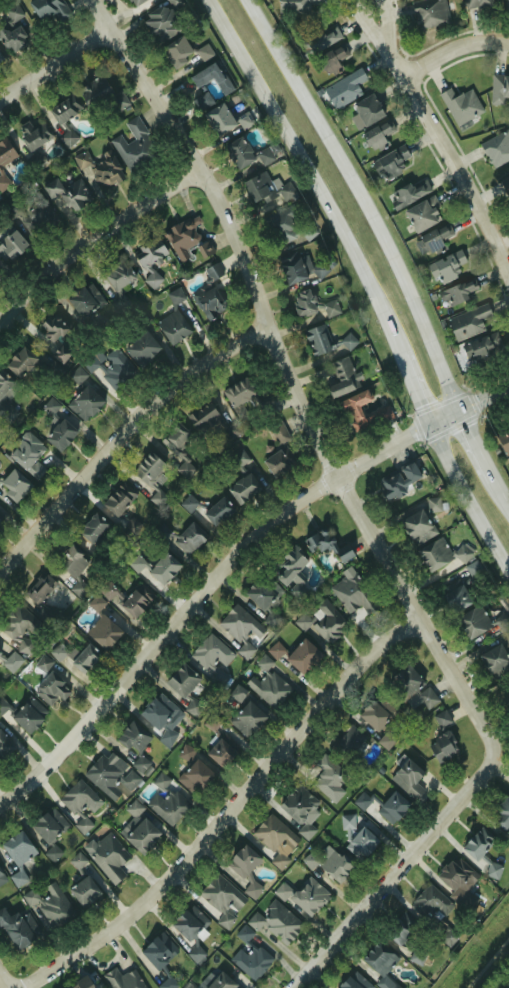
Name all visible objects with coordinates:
building: (133, 2)
building: (174, 3)
building: (475, 3)
building: (507, 4)
building: (295, 5)
building: (49, 10)
building: (429, 13)
road: (387, 18)
road: (365, 21)
building: (161, 23)
building: (12, 31)
building: (321, 34)
road: (453, 48)
building: (183, 51)
building: (0, 57)
building: (326, 63)
road: (58, 68)
building: (344, 88)
building: (499, 88)
building: (101, 94)
building: (211, 98)
building: (461, 105)
building: (367, 109)
building: (63, 116)
building: (377, 136)
building: (32, 138)
building: (134, 145)
building: (496, 148)
building: (5, 152)
building: (238, 152)
road: (448, 153)
building: (264, 156)
building: (391, 162)
building: (104, 170)
road: (310, 174)
building: (507, 180)
building: (3, 182)
building: (259, 188)
building: (66, 189)
building: (409, 193)
road: (361, 201)
building: (29, 213)
building: (423, 214)
building: (287, 227)
building: (182, 236)
building: (435, 240)
road: (97, 241)
building: (10, 246)
building: (203, 251)
building: (149, 257)
building: (445, 267)
building: (299, 268)
building: (213, 271)
building: (117, 274)
building: (458, 292)
building: (175, 296)
building: (83, 300)
building: (208, 301)
building: (119, 302)
building: (312, 305)
building: (467, 322)
building: (172, 326)
building: (52, 327)
building: (317, 340)
building: (348, 341)
building: (482, 347)
building: (142, 349)
building: (20, 362)
building: (110, 366)
building: (77, 375)
building: (343, 376)
road: (296, 381)
road: (413, 390)
building: (239, 394)
building: (6, 397)
building: (84, 403)
building: (50, 406)
building: (350, 411)
traffic signals: (457, 413)
building: (205, 418)
traffic signals: (428, 427)
building: (277, 432)
building: (59, 434)
road: (126, 440)
building: (504, 440)
road: (475, 446)
building: (178, 448)
building: (28, 455)
building: (278, 462)
building: (151, 476)
building: (397, 481)
building: (13, 485)
building: (243, 488)
road: (501, 492)
road: (468, 497)
building: (118, 498)
building: (188, 503)
building: (433, 504)
building: (217, 511)
building: (0, 518)
building: (417, 526)
building: (93, 527)
building: (188, 538)
building: (327, 545)
building: (440, 553)
building: (72, 560)
building: (155, 568)
road: (232, 570)
building: (473, 570)
building: (289, 571)
building: (79, 588)
building: (108, 591)
building: (262, 592)
building: (353, 592)
building: (46, 595)
building: (456, 599)
building: (135, 600)
building: (95, 604)
building: (321, 620)
building: (479, 622)
building: (18, 626)
building: (240, 628)
building: (102, 632)
building: (507, 640)
building: (275, 650)
building: (59, 651)
building: (211, 652)
building: (0, 653)
building: (302, 656)
building: (84, 658)
building: (12, 661)
building: (494, 661)
building: (43, 663)
building: (182, 681)
building: (404, 683)
building: (268, 684)
building: (51, 689)
building: (237, 694)
building: (426, 697)
building: (2, 705)
building: (192, 707)
building: (158, 711)
building: (376, 713)
building: (28, 714)
building: (441, 718)
building: (247, 719)
building: (211, 722)
building: (167, 735)
building: (132, 737)
building: (385, 741)
building: (348, 743)
building: (4, 746)
building: (441, 747)
building: (185, 752)
building: (220, 752)
building: (142, 766)
building: (106, 773)
building: (195, 777)
building: (328, 778)
building: (407, 778)
building: (166, 801)
building: (80, 803)
building: (297, 804)
building: (388, 804)
road: (233, 810)
building: (502, 814)
building: (347, 822)
building: (48, 825)
building: (306, 831)
building: (142, 836)
building: (274, 839)
building: (360, 843)
building: (478, 843)
building: (17, 848)
building: (52, 853)
building: (108, 857)
building: (310, 859)
building: (77, 860)
building: (335, 866)
building: (245, 869)
building: (493, 870)
road: (398, 873)
building: (2, 878)
building: (18, 878)
building: (457, 880)
building: (83, 891)
building: (303, 896)
building: (221, 898)
building: (52, 905)
building: (430, 905)
building: (275, 921)
building: (189, 923)
building: (17, 929)
building: (404, 936)
building: (446, 936)
building: (158, 951)
building: (195, 954)
building: (249, 956)
building: (379, 959)
road: (8, 974)
building: (123, 979)
building: (221, 982)
building: (354, 982)
building: (167, 983)
building: (84, 984)
building: (190, 986)

